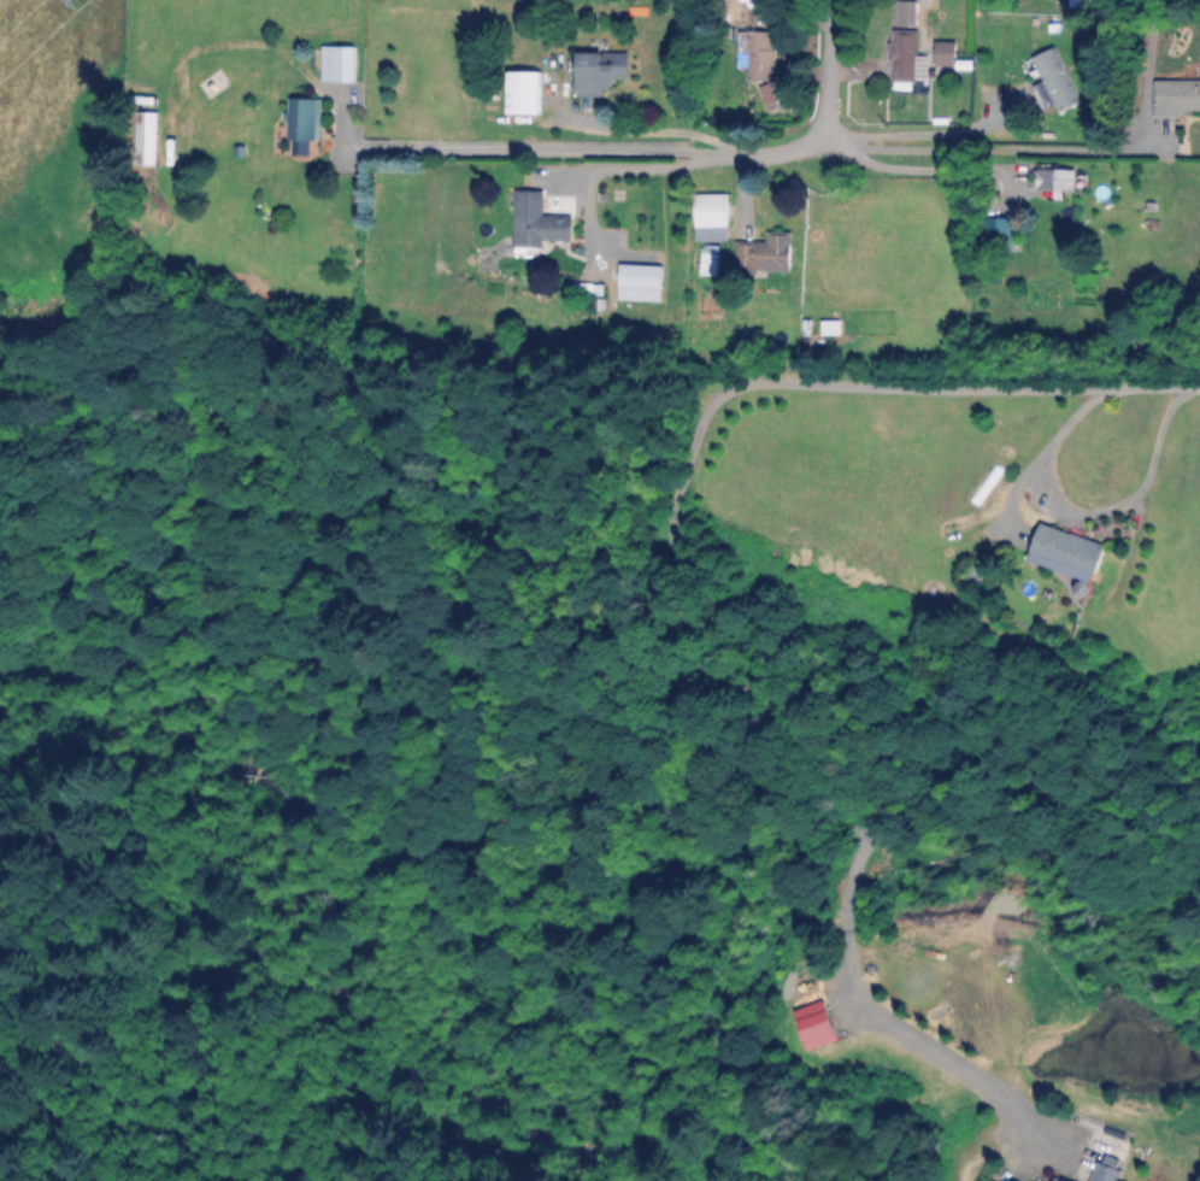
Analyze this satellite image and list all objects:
building: (1078, 0)
building: (907, 12)
building: (946, 53)
building: (758, 54)
building: (904, 54)
building: (339, 63)
building: (601, 71)
building: (1055, 77)
building: (527, 92)
building: (1177, 98)
road: (824, 111)
building: (305, 117)
road: (651, 129)
road: (906, 130)
building: (147, 135)
road: (989, 147)
road: (547, 148)
road: (647, 165)
road: (895, 168)
building: (1057, 178)
building: (711, 210)
building: (539, 222)
building: (765, 254)
building: (710, 262)
building: (641, 282)
building: (1099, 478)
building: (987, 483)
road: (1087, 510)
building: (1067, 552)
road: (796, 666)
building: (819, 1023)
building: (1106, 1173)
building: (1012, 1180)
building: (1067, 1180)

